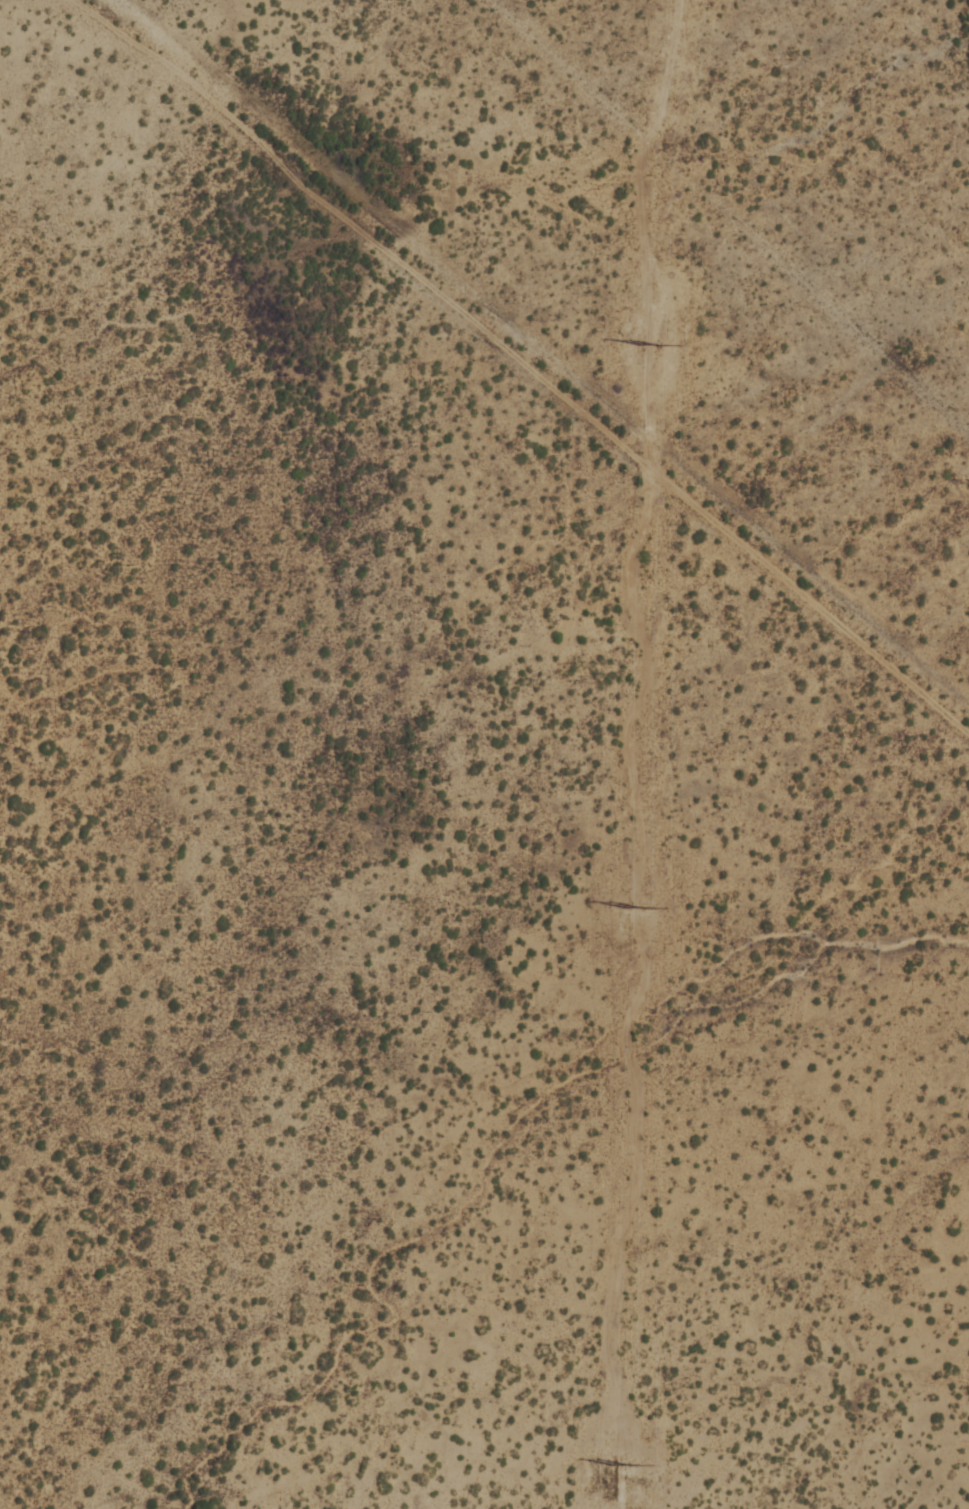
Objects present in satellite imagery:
road: (815, 158)
power tower: (646, 349)
power tower: (627, 902)
power tower: (615, 1466)

